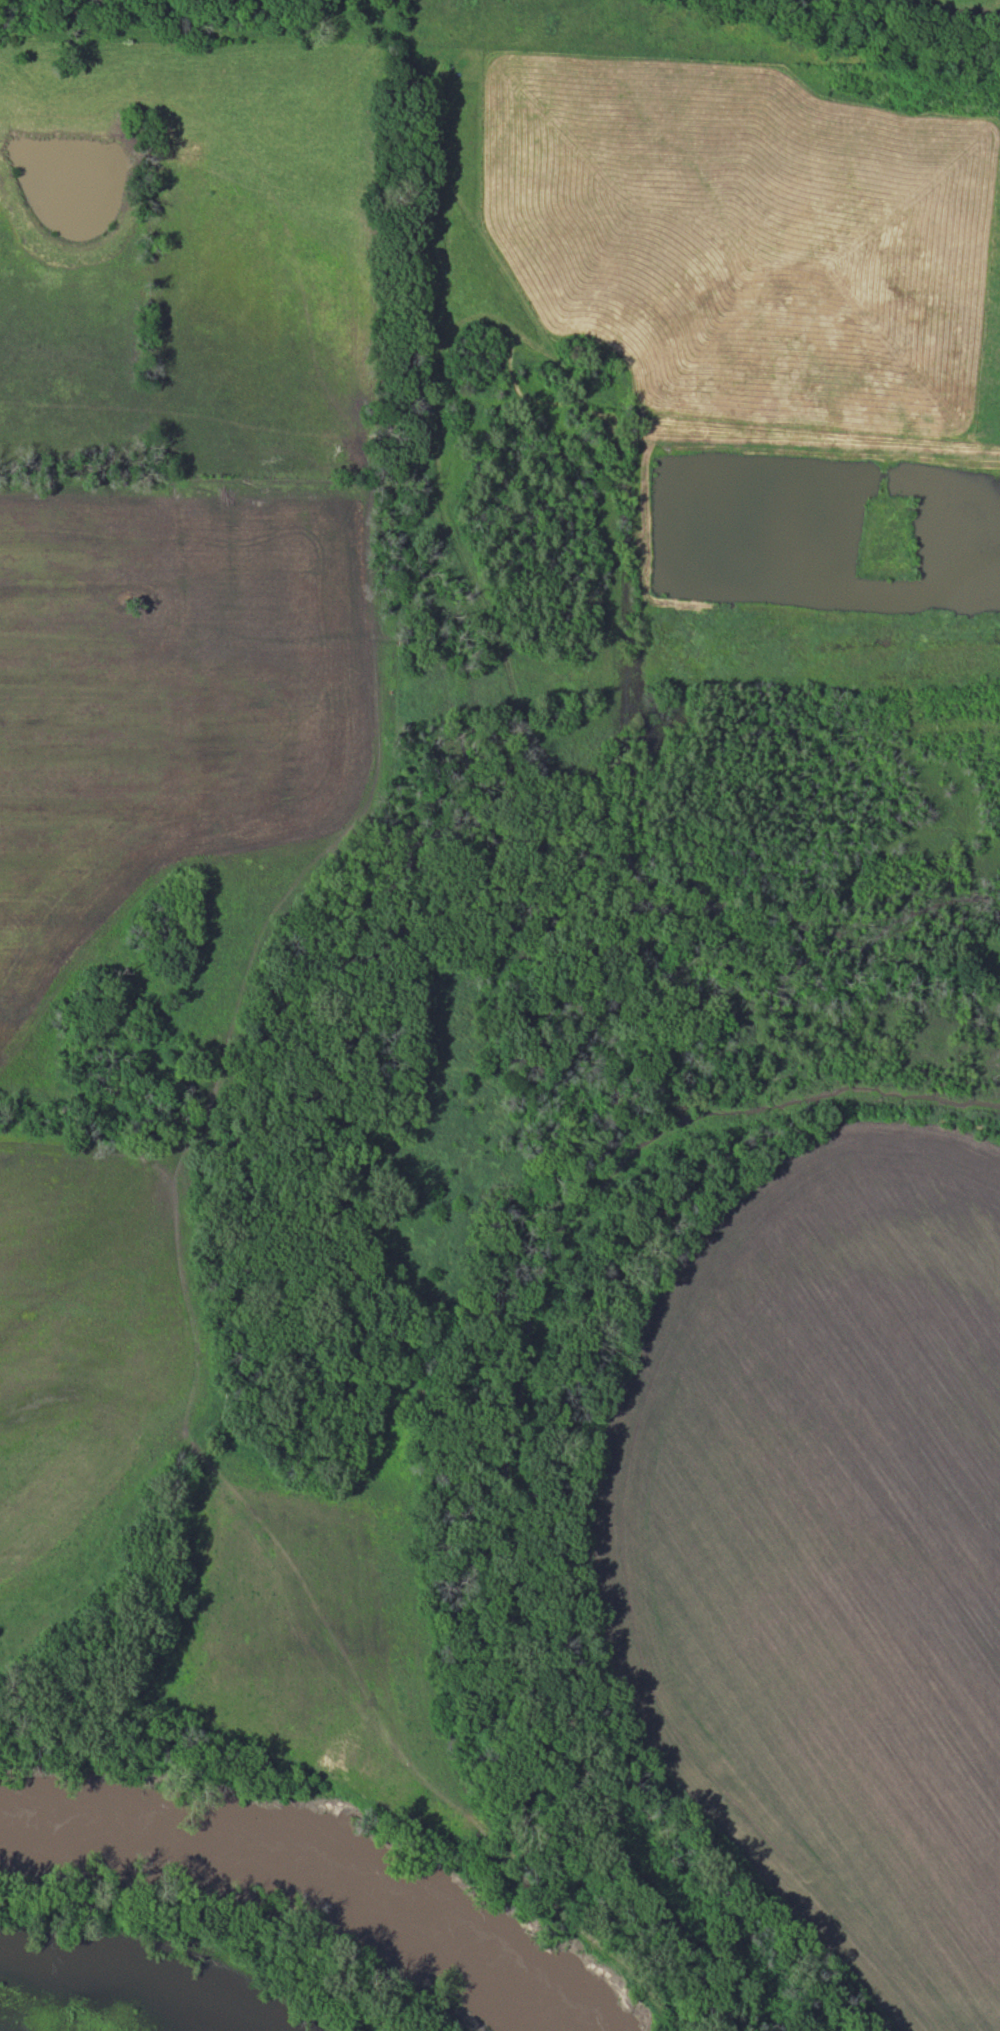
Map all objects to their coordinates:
river: (238, 1853)
river: (499, 1989)

